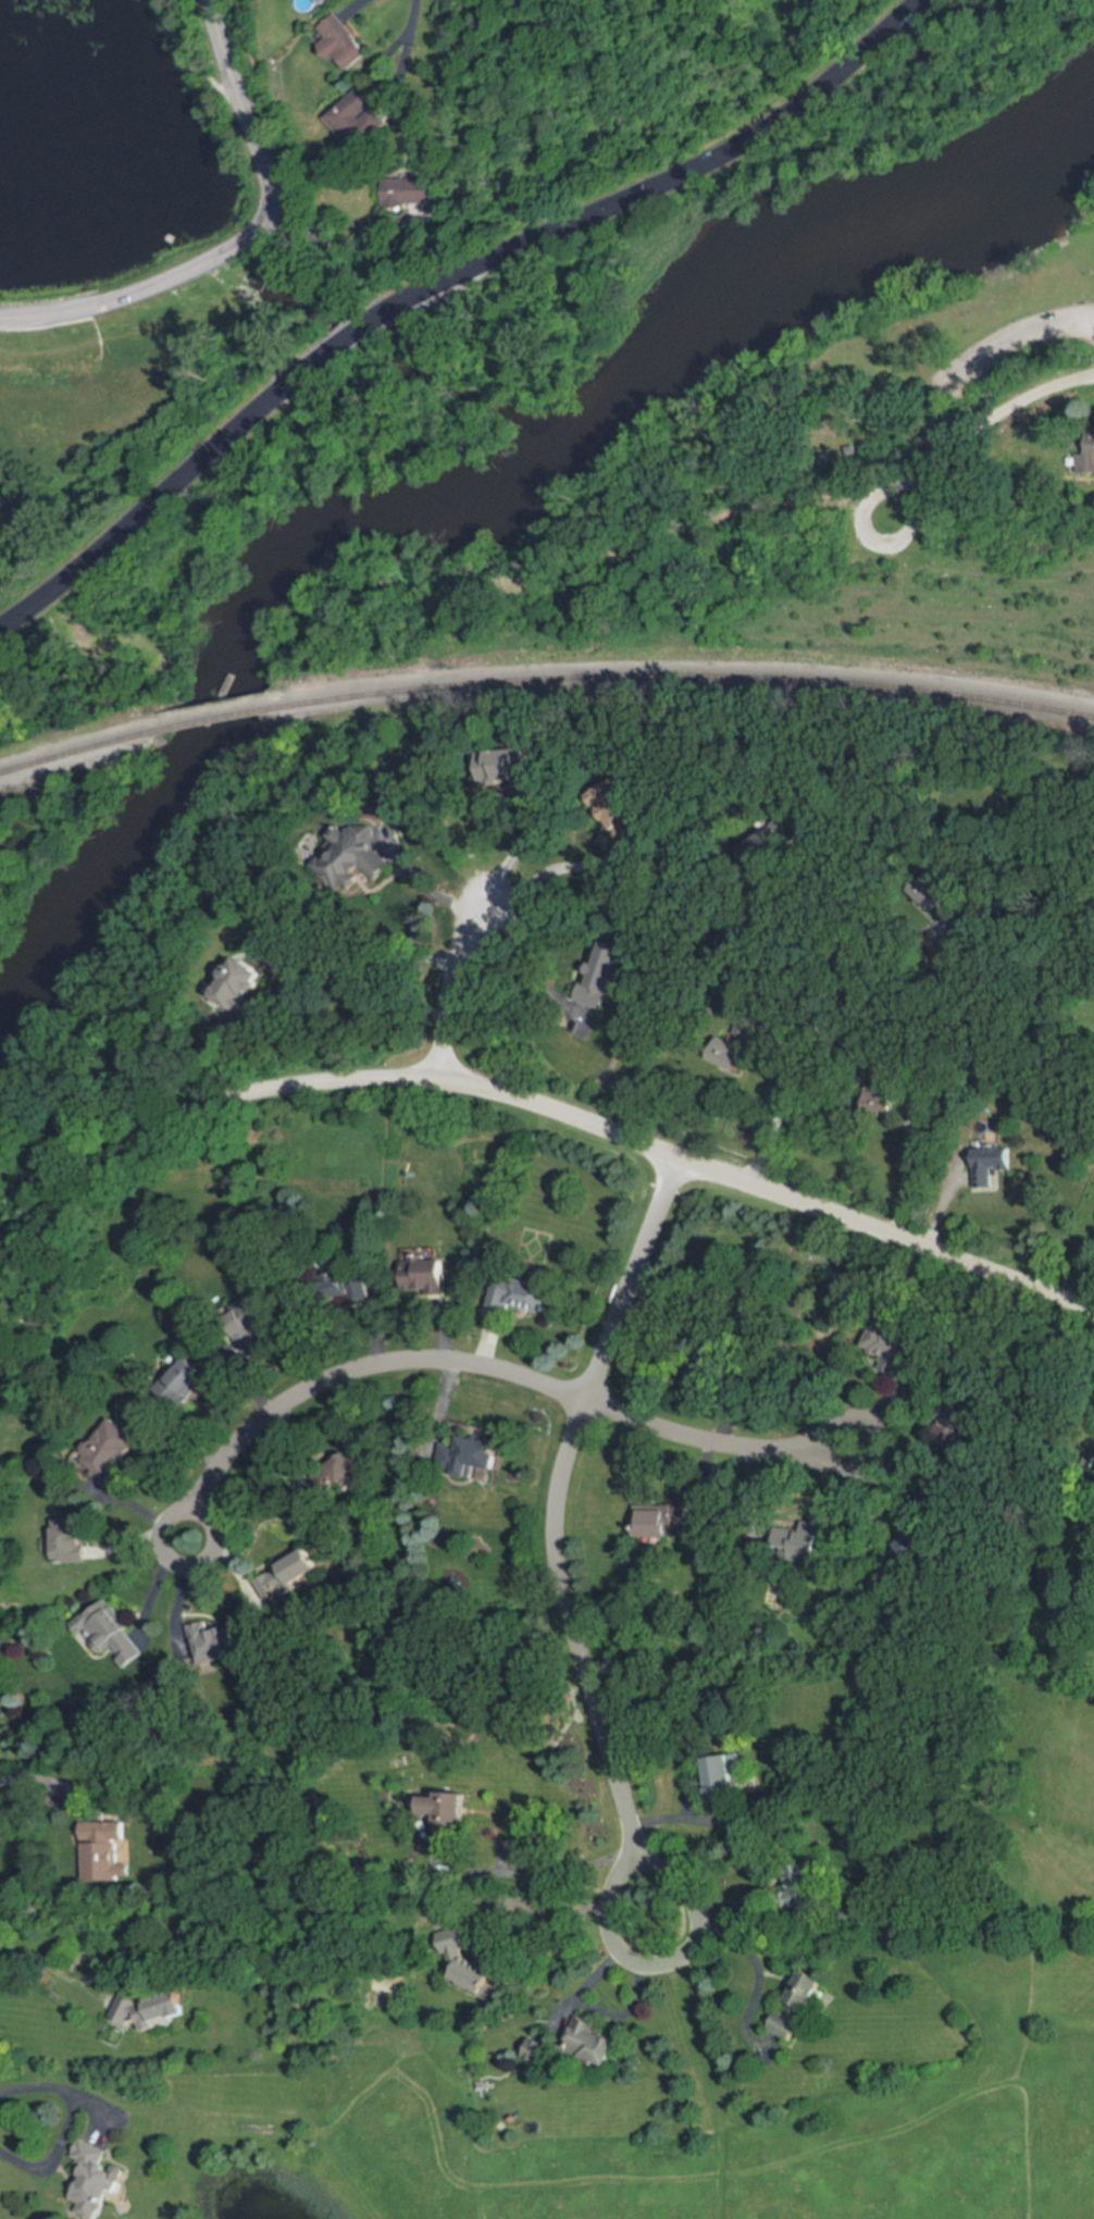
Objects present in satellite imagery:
road: (408, 30)
building: (341, 42)
building: (407, 193)
road: (241, 240)
road: (325, 243)
road: (438, 280)
road: (1092, 321)
road: (933, 328)
road: (1019, 330)
parking lot: (1004, 348)
park: (604, 395)
road: (998, 413)
river: (477, 508)
road: (859, 548)
railway: (680, 675)
railway: (208, 720)
railway: (74, 749)
building: (509, 766)
road: (519, 850)
road: (556, 869)
road: (430, 880)
road: (836, 905)
road: (345, 966)
road: (522, 967)
road: (451, 984)
road: (795, 1070)
road: (533, 1098)
building: (990, 1164)
road: (915, 1176)
building: (525, 1294)
building: (247, 1327)
road: (489, 1365)
building: (183, 1383)
road: (847, 1408)
building: (468, 1456)
building: (105, 1459)
building: (656, 1521)
road: (555, 1527)
road: (215, 1538)
building: (70, 1541)
building: (910, 1542)
building: (284, 1576)
building: (719, 1777)
road: (42, 1780)
building: (447, 1818)
building: (100, 1850)
road: (554, 1870)
road: (707, 1898)
road: (539, 1913)
road: (745, 1944)
road: (602, 1961)
building: (477, 1981)
road: (637, 1988)
building: (798, 2007)
building: (151, 2011)
building: (589, 2042)
road: (67, 2125)
building: (98, 2178)

